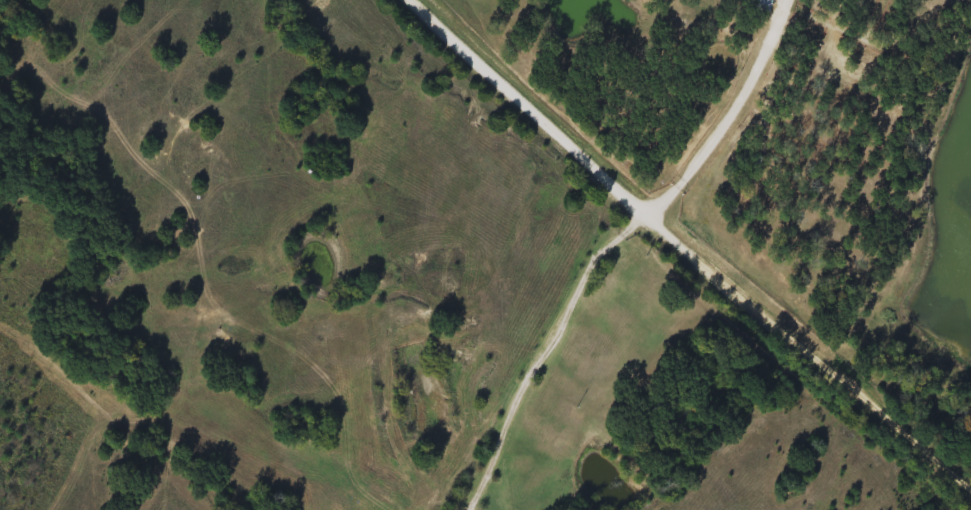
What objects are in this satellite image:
building: (758, 3)
road: (524, 106)
road: (730, 117)
road: (544, 353)
road: (808, 353)

